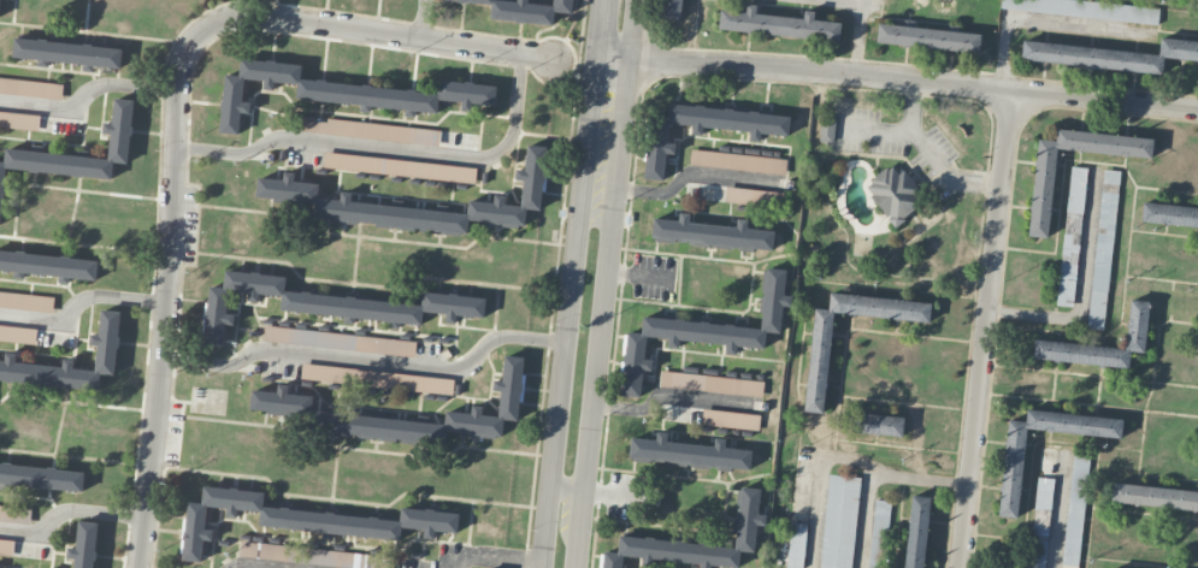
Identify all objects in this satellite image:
building: (0, 6)
building: (1085, 8)
building: (526, 10)
building: (671, 10)
road: (423, 18)
building: (779, 24)
road: (598, 30)
road: (862, 35)
building: (928, 37)
building: (66, 53)
building: (1110, 55)
road: (897, 77)
building: (31, 88)
building: (338, 91)
road: (85, 93)
road: (175, 116)
building: (19, 120)
building: (827, 129)
building: (371, 130)
building: (657, 142)
road: (386, 147)
road: (928, 154)
building: (57, 161)
building: (738, 161)
building: (400, 167)
road: (689, 171)
building: (288, 187)
building: (893, 194)
building: (754, 196)
building: (1041, 196)
building: (1169, 214)
building: (712, 232)
building: (1072, 236)
building: (1103, 249)
building: (47, 265)
road: (637, 274)
road: (608, 283)
road: (1081, 292)
building: (26, 301)
road: (81, 303)
building: (329, 303)
road: (567, 314)
building: (1138, 319)
road: (984, 329)
building: (703, 332)
building: (18, 335)
building: (340, 341)
road: (366, 359)
building: (70, 361)
building: (819, 366)
road: (1088, 375)
building: (377, 378)
building: (712, 383)
road: (668, 394)
building: (491, 406)
building: (343, 418)
building: (731, 419)
building: (875, 422)
building: (690, 452)
road: (848, 456)
building: (1011, 475)
building: (41, 477)
road: (615, 491)
building: (1155, 496)
road: (67, 509)
road: (1056, 511)
building: (1075, 511)
building: (14, 514)
building: (305, 519)
building: (839, 521)
building: (1040, 522)
building: (745, 529)
building: (917, 531)
building: (879, 533)
building: (84, 545)
building: (796, 546)
building: (6, 548)
building: (300, 554)
road: (492, 556)
road: (249, 566)

